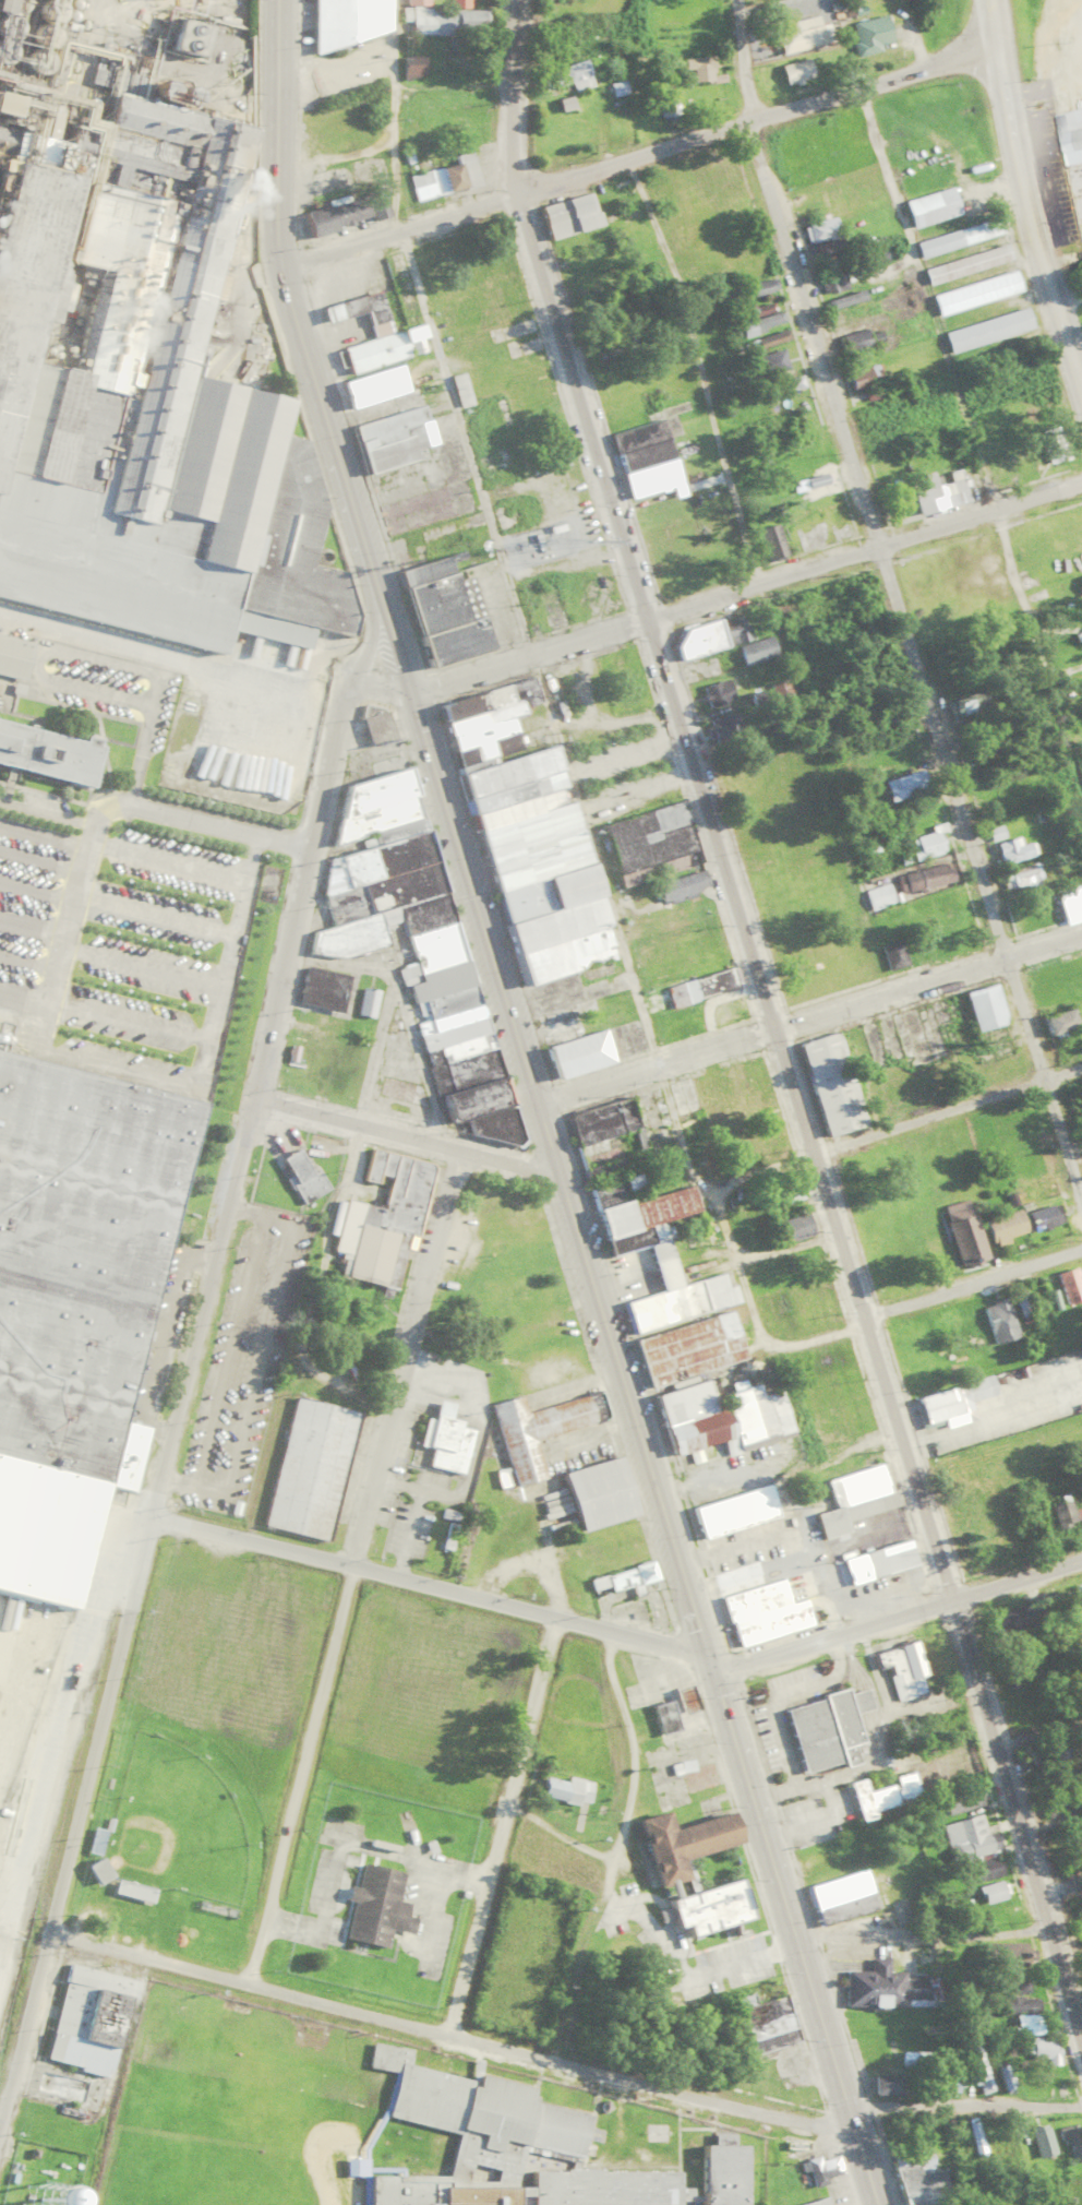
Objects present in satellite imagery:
road: (993, 23)
road: (637, 155)
road: (1031, 219)
road: (1068, 295)
road: (746, 586)
railway: (109, 600)
railway: (109, 608)
road: (895, 608)
railway: (107, 616)
road: (746, 950)
road: (809, 1017)
road: (279, 1100)
road: (540, 1108)
road: (897, 1128)
road: (973, 1283)
road: (183, 1374)
road: (352, 1562)
road: (430, 1581)
road: (898, 1611)
road: (1039, 1731)
road: (497, 1821)
road: (1060, 1883)
road: (1044, 1906)
road: (922, 1930)
road: (1065, 1980)
road: (426, 2024)
road: (964, 2098)
water tower: (31, 2203)

